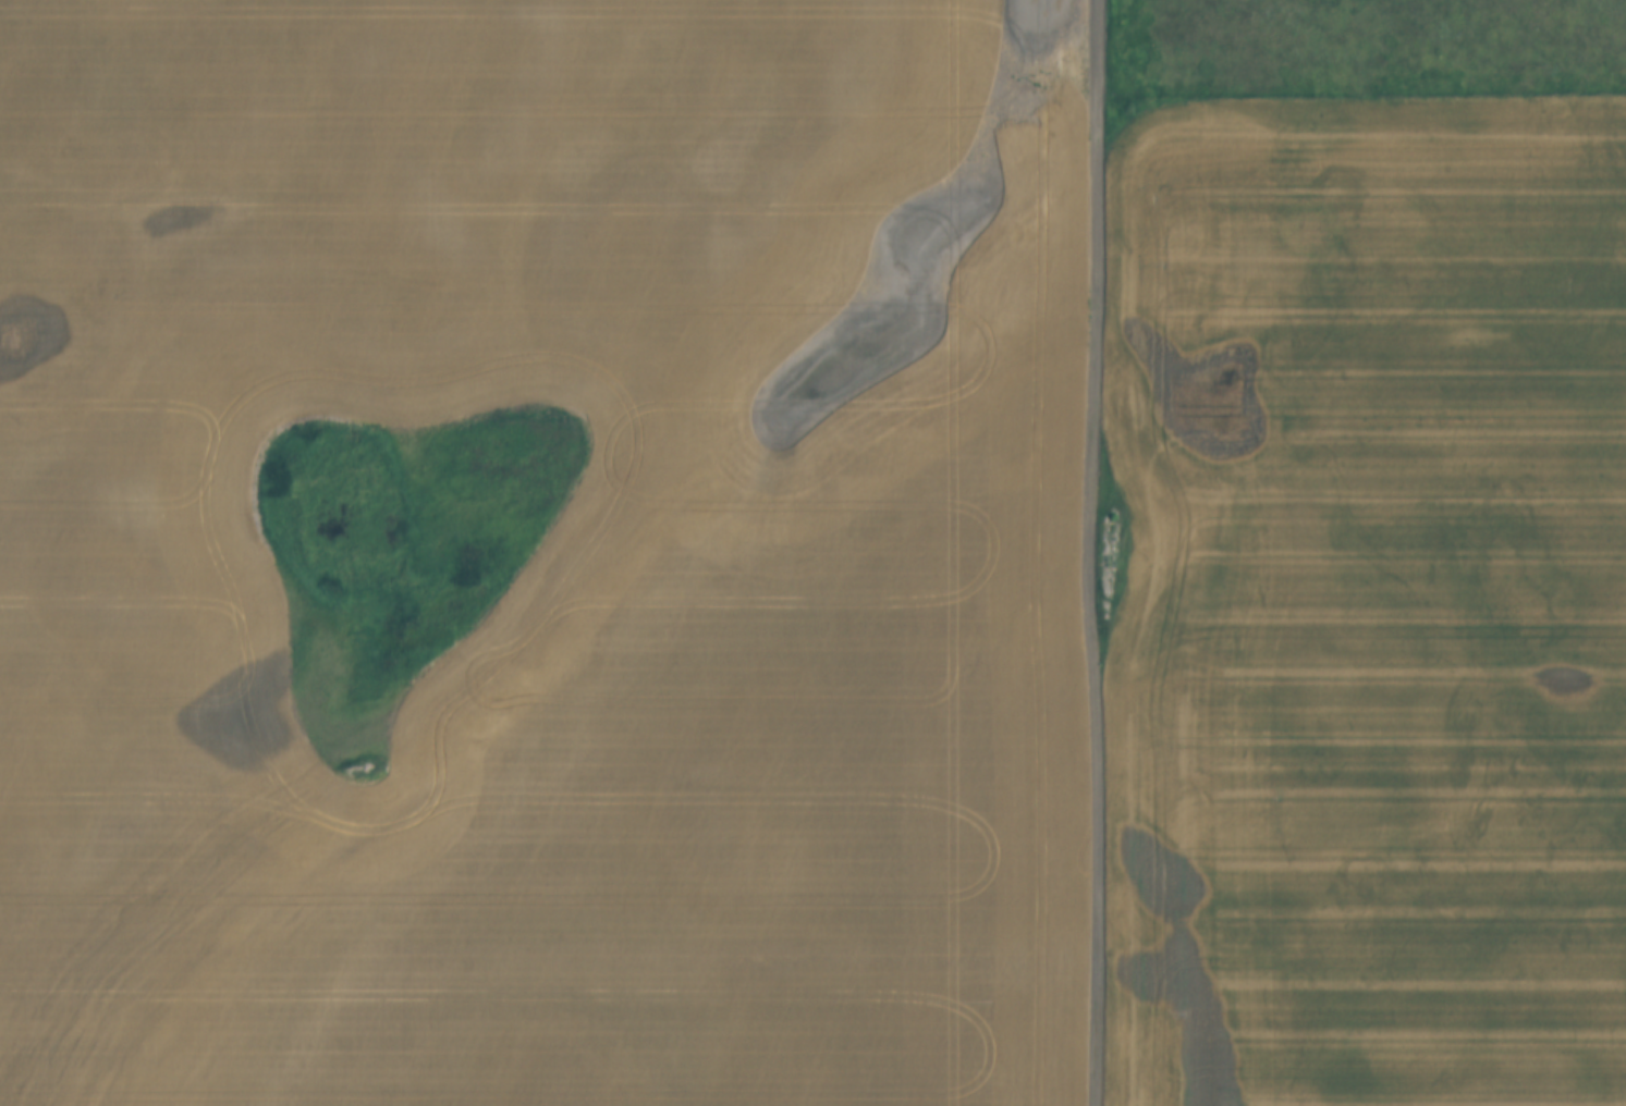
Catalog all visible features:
road: (1087, 552)

